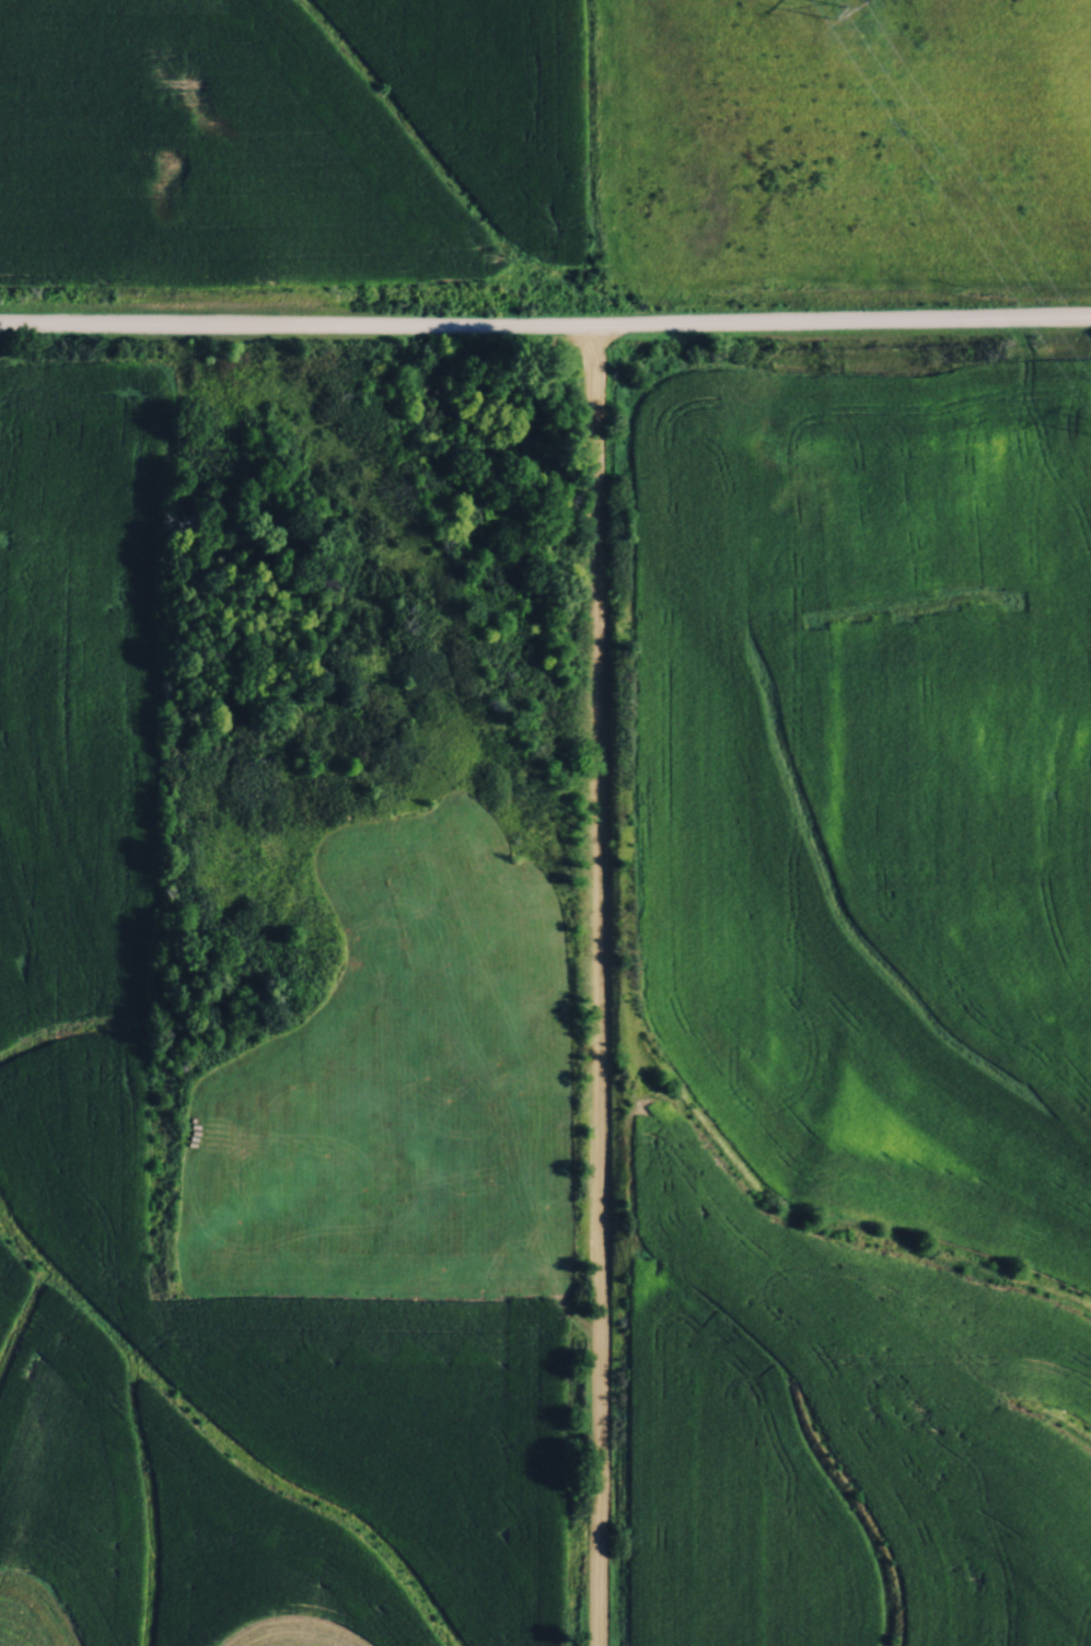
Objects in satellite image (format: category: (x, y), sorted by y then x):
power tower: (840, 20)
road: (545, 322)
road: (601, 984)

